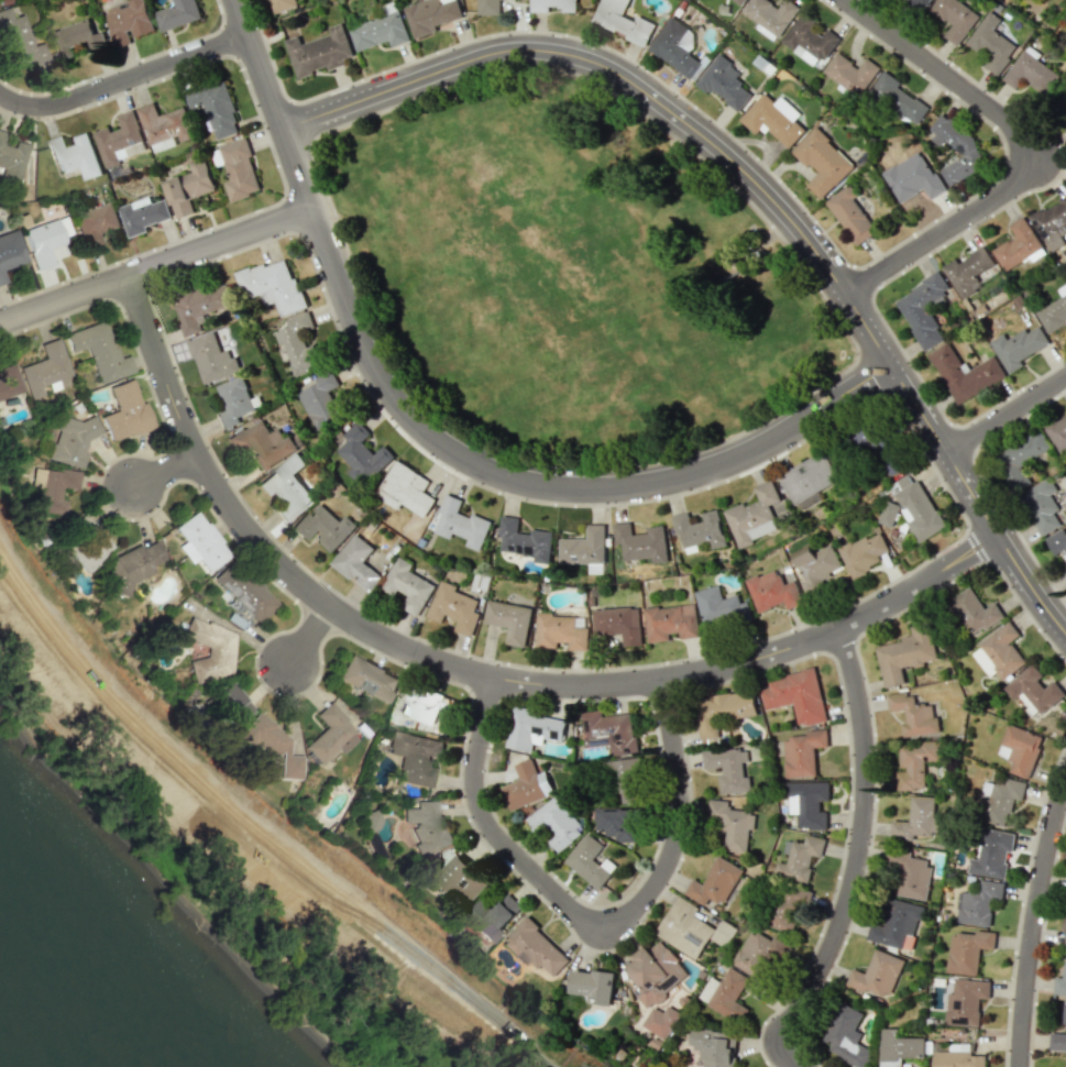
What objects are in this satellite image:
building: (739, 1)
building: (917, 2)
building: (281, 4)
building: (552, 5)
building: (487, 7)
building: (177, 14)
building: (430, 15)
building: (770, 15)
building: (954, 18)
building: (128, 21)
building: (623, 21)
building: (378, 31)
building: (77, 40)
building: (18, 41)
building: (809, 41)
building: (991, 44)
building: (319, 52)
building: (850, 73)
building: (1030, 73)
road: (124, 80)
building: (724, 82)
building: (897, 99)
building: (1062, 105)
building: (215, 108)
building: (773, 119)
building: (164, 127)
building: (119, 140)
building: (968, 150)
road: (1016, 150)
building: (74, 154)
building: (10, 161)
building: (822, 162)
building: (239, 168)
building: (912, 177)
building: (188, 187)
road: (762, 189)
building: (143, 215)
building: (850, 215)
park: (550, 217)
building: (1051, 223)
building: (95, 224)
building: (41, 241)
building: (1016, 245)
building: (10, 251)
road: (154, 264)
building: (967, 271)
park: (565, 277)
building: (272, 285)
building: (201, 305)
building: (922, 310)
building: (1054, 312)
park: (480, 313)
building: (298, 342)
building: (1018, 346)
building: (99, 351)
building: (211, 359)
building: (44, 369)
building: (964, 373)
building: (9, 382)
building: (319, 397)
building: (233, 402)
building: (124, 411)
road: (1004, 413)
building: (1057, 432)
building: (70, 441)
road: (440, 441)
building: (262, 443)
building: (361, 454)
building: (1020, 459)
building: (888, 460)
road: (169, 473)
building: (807, 477)
building: (286, 487)
building: (52, 488)
building: (405, 490)
building: (1042, 505)
building: (911, 509)
building: (755, 515)
building: (460, 524)
building: (85, 526)
building: (322, 527)
building: (699, 529)
building: (524, 540)
building: (1057, 540)
building: (199, 541)
building: (640, 542)
building: (584, 547)
road: (972, 547)
building: (85, 551)
building: (862, 553)
building: (356, 562)
building: (131, 564)
building: (814, 566)
building: (407, 586)
building: (243, 591)
building: (772, 591)
building: (453, 607)
building: (718, 607)
building: (970, 612)
building: (508, 620)
building: (671, 621)
building: (618, 624)
building: (560, 631)
road: (314, 638)
building: (210, 646)
building: (998, 652)
building: (903, 654)
road: (473, 673)
building: (367, 678)
building: (1033, 690)
building: (796, 695)
building: (230, 703)
building: (420, 705)
building: (721, 711)
building: (913, 714)
building: (532, 729)
building: (330, 735)
building: (272, 745)
building: (1019, 749)
building: (802, 752)
building: (414, 758)
building: (914, 763)
building: (727, 769)
building: (625, 779)
building: (526, 785)
building: (998, 800)
building: (807, 803)
road: (254, 818)
building: (915, 820)
building: (369, 822)
building: (556, 823)
building: (616, 823)
building: (732, 824)
building: (427, 828)
building: (992, 854)
building: (799, 858)
building: (590, 860)
road: (854, 861)
building: (909, 873)
building: (462, 879)
building: (714, 882)
building: (978, 903)
building: (788, 906)
building: (492, 916)
road: (591, 916)
road: (1031, 916)
building: (684, 928)
building: (1064, 932)
building: (534, 947)
building: (967, 950)
building: (758, 953)
building: (655, 972)
building: (878, 974)
building: (1059, 983)
building: (593, 985)
building: (725, 994)
building: (965, 1001)
building: (660, 1021)
river: (39, 1033)
building: (846, 1036)
building: (1058, 1036)
building: (713, 1046)
building: (898, 1047)
building: (957, 1057)
building: (1065, 1063)

